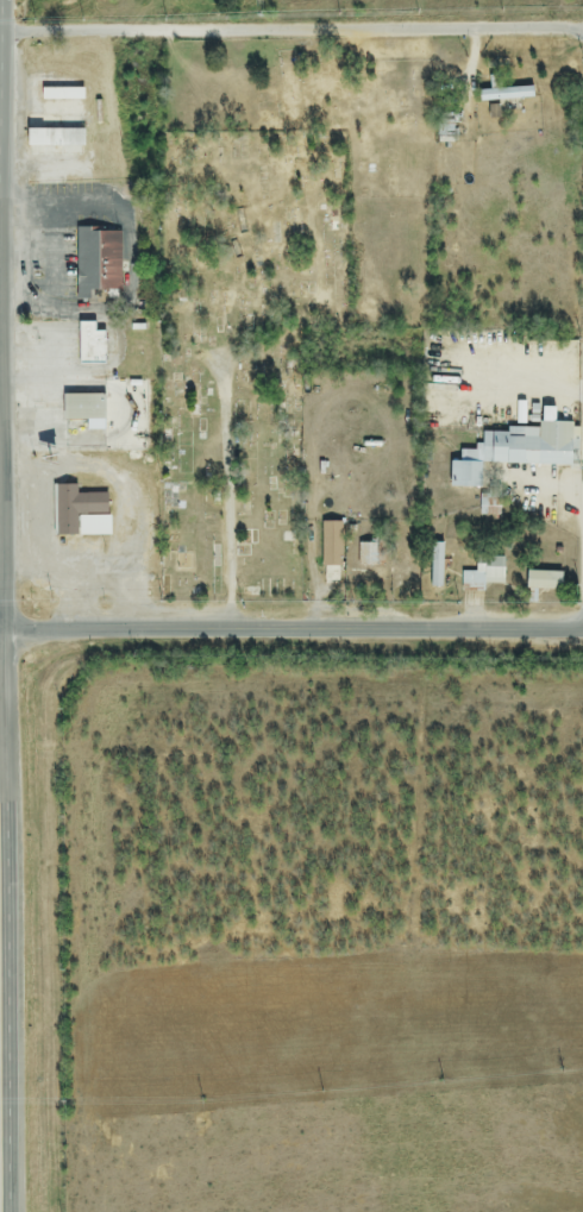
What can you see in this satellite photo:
road: (291, 29)
building: (504, 94)
building: (54, 138)
building: (98, 264)
building: (89, 346)
park: (240, 352)
building: (82, 408)
building: (532, 444)
building: (463, 475)
road: (230, 497)
building: (489, 504)
building: (80, 513)
building: (331, 555)
building: (368, 555)
building: (483, 574)
building: (541, 580)
road: (290, 629)
road: (6, 934)

